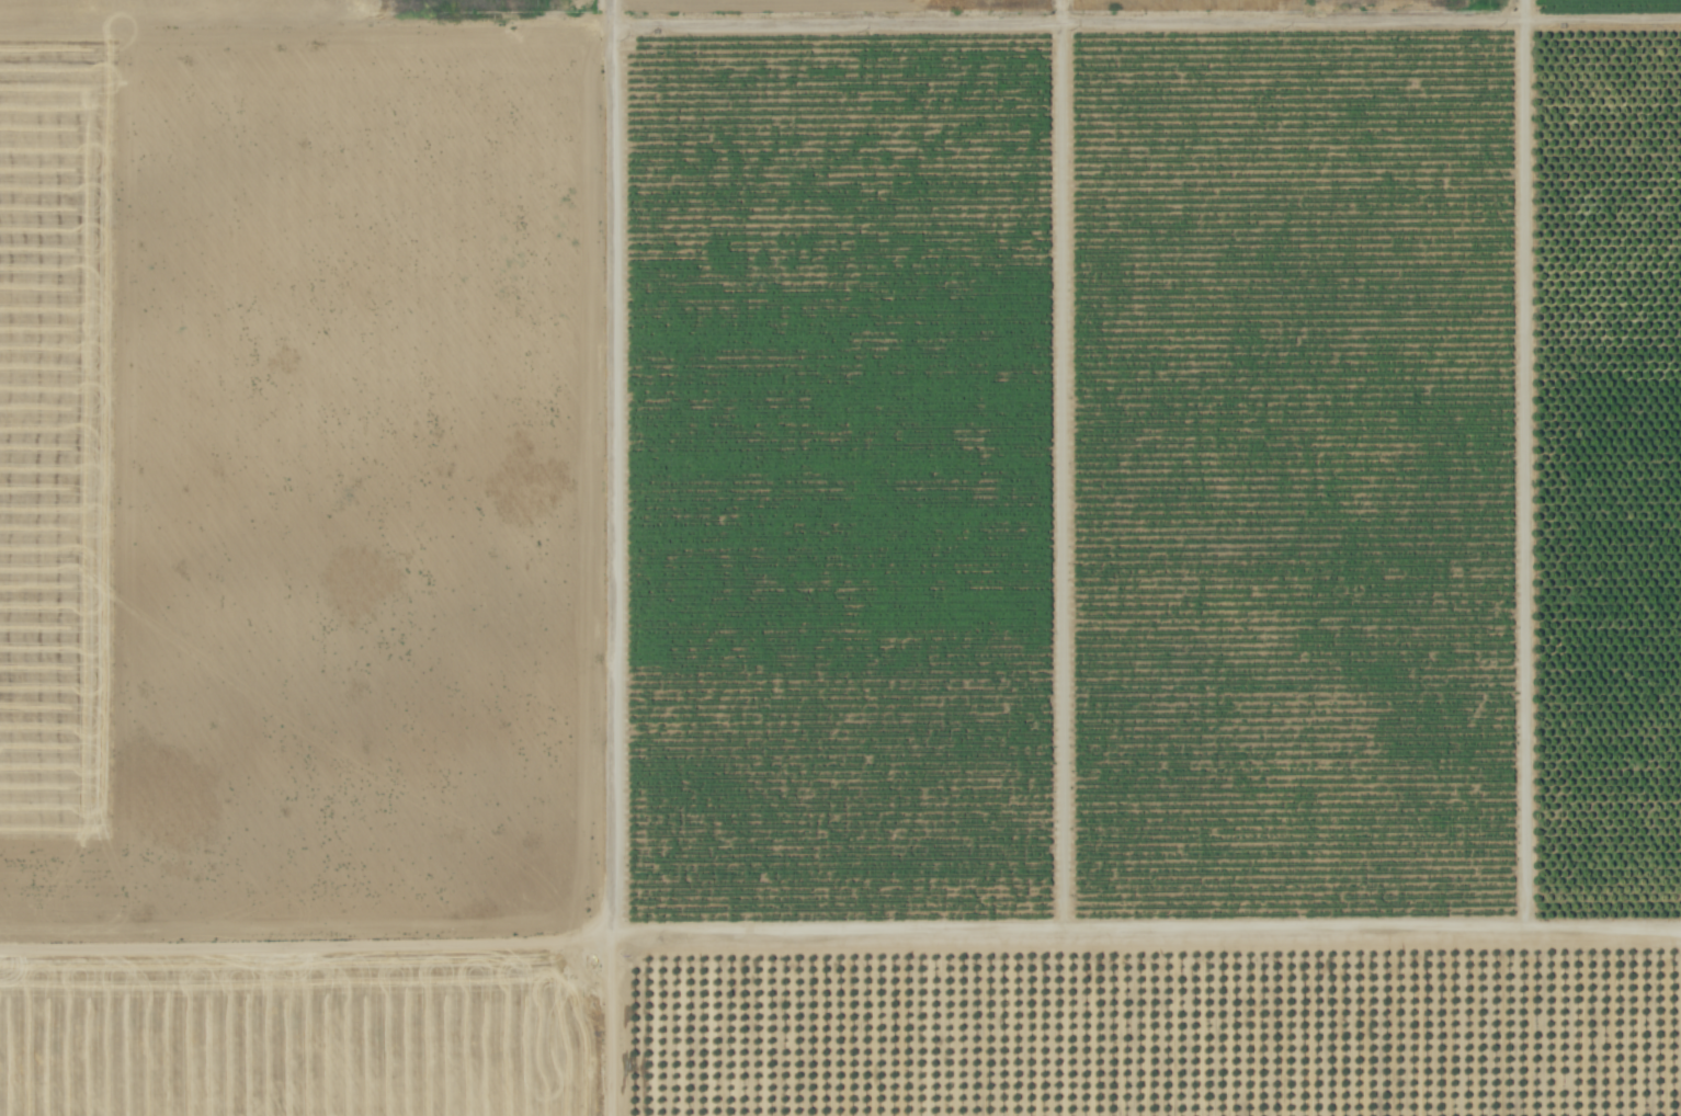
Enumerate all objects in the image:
road: (622, 558)
road: (840, 938)

